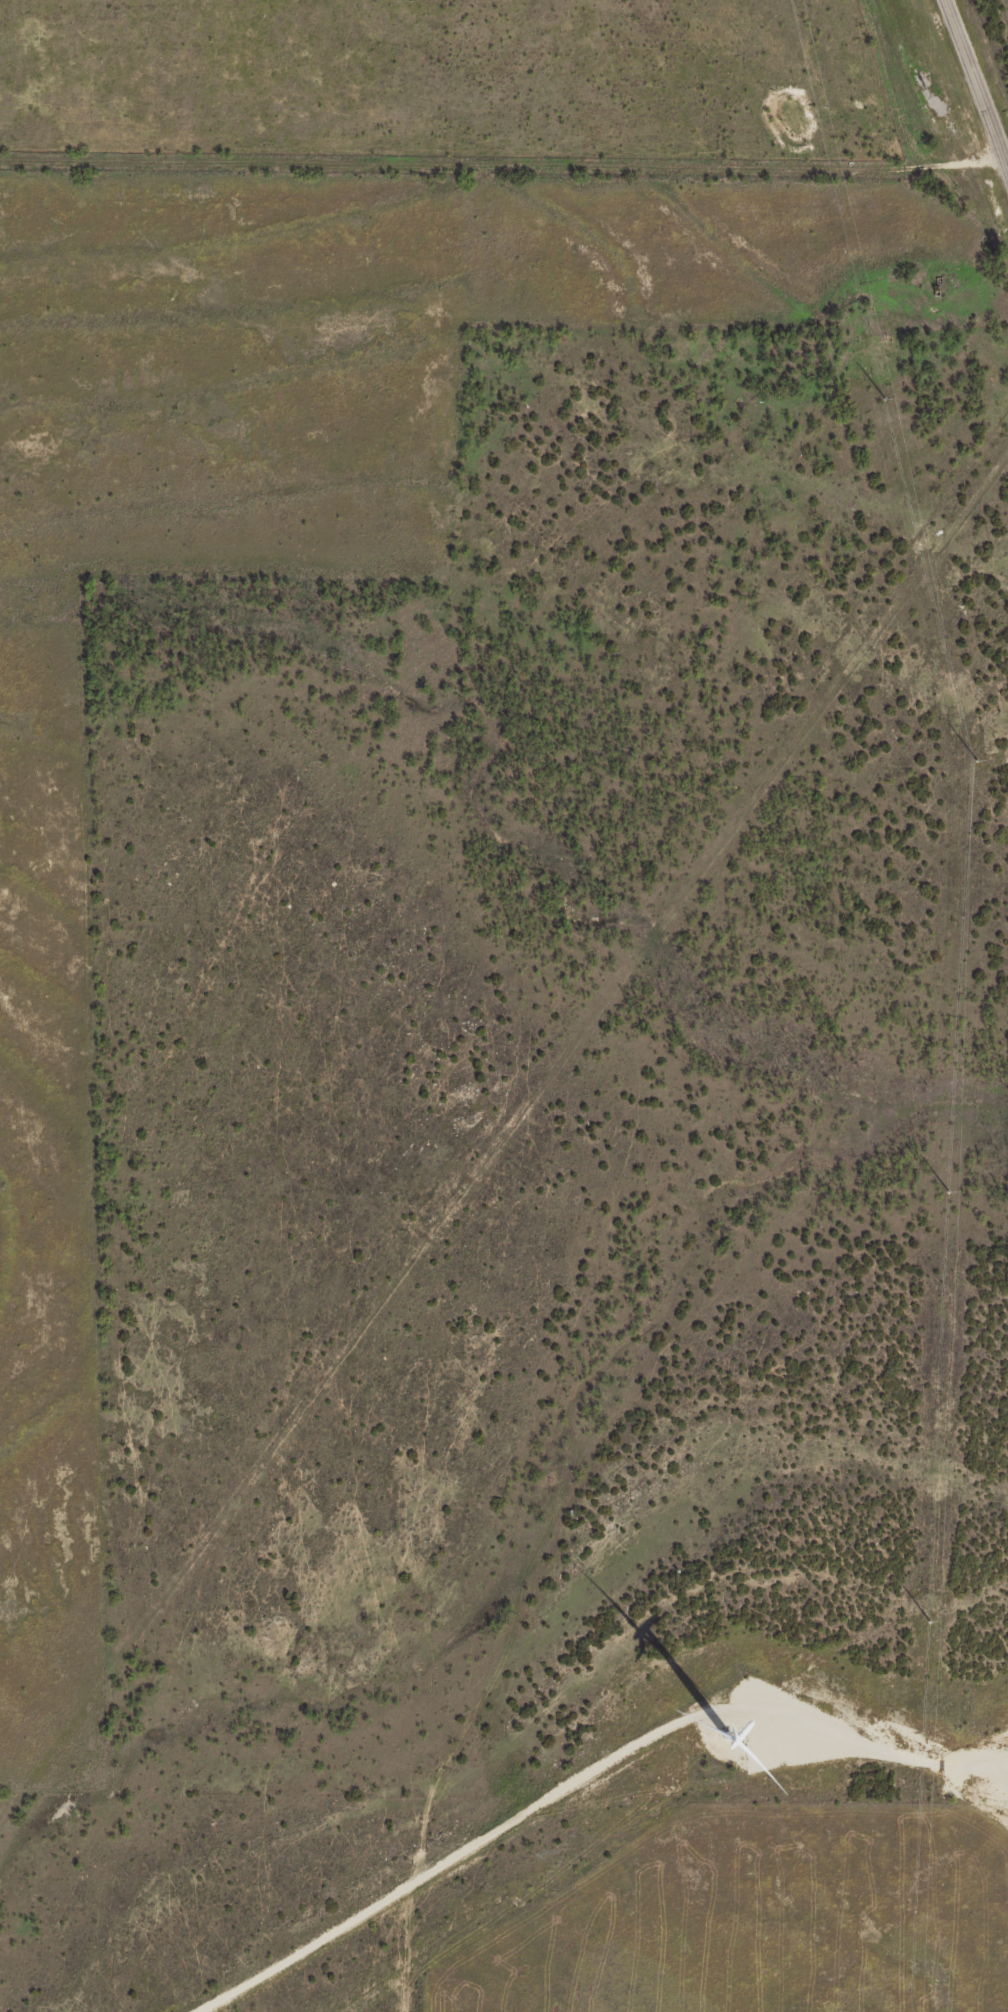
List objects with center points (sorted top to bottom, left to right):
road: (974, 90)
road: (500, 163)
power tower: (882, 399)
power tower: (972, 761)
power tower: (944, 1194)
power tower: (927, 1623)
wind turbine: (756, 1718)

